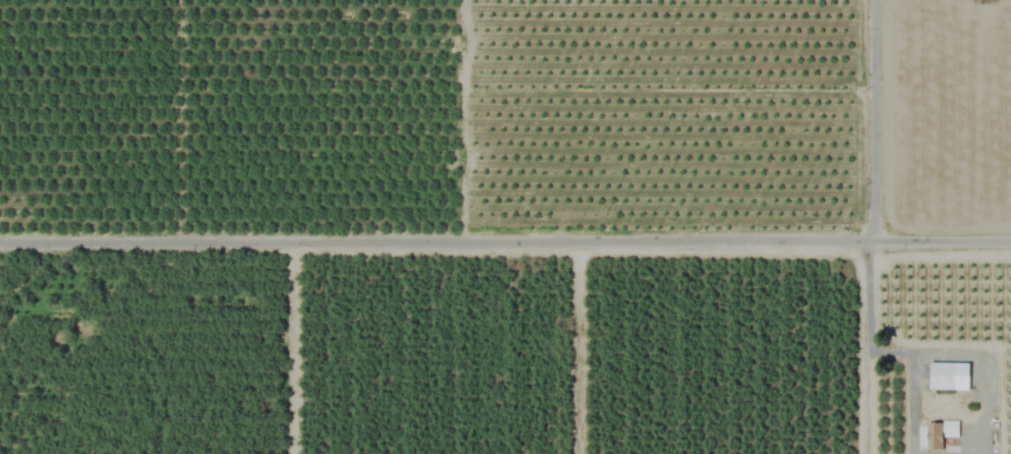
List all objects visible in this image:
road: (871, 171)
road: (505, 237)
road: (979, 375)
building: (943, 376)
road: (912, 382)
road: (868, 398)
building: (936, 436)
building: (955, 445)

